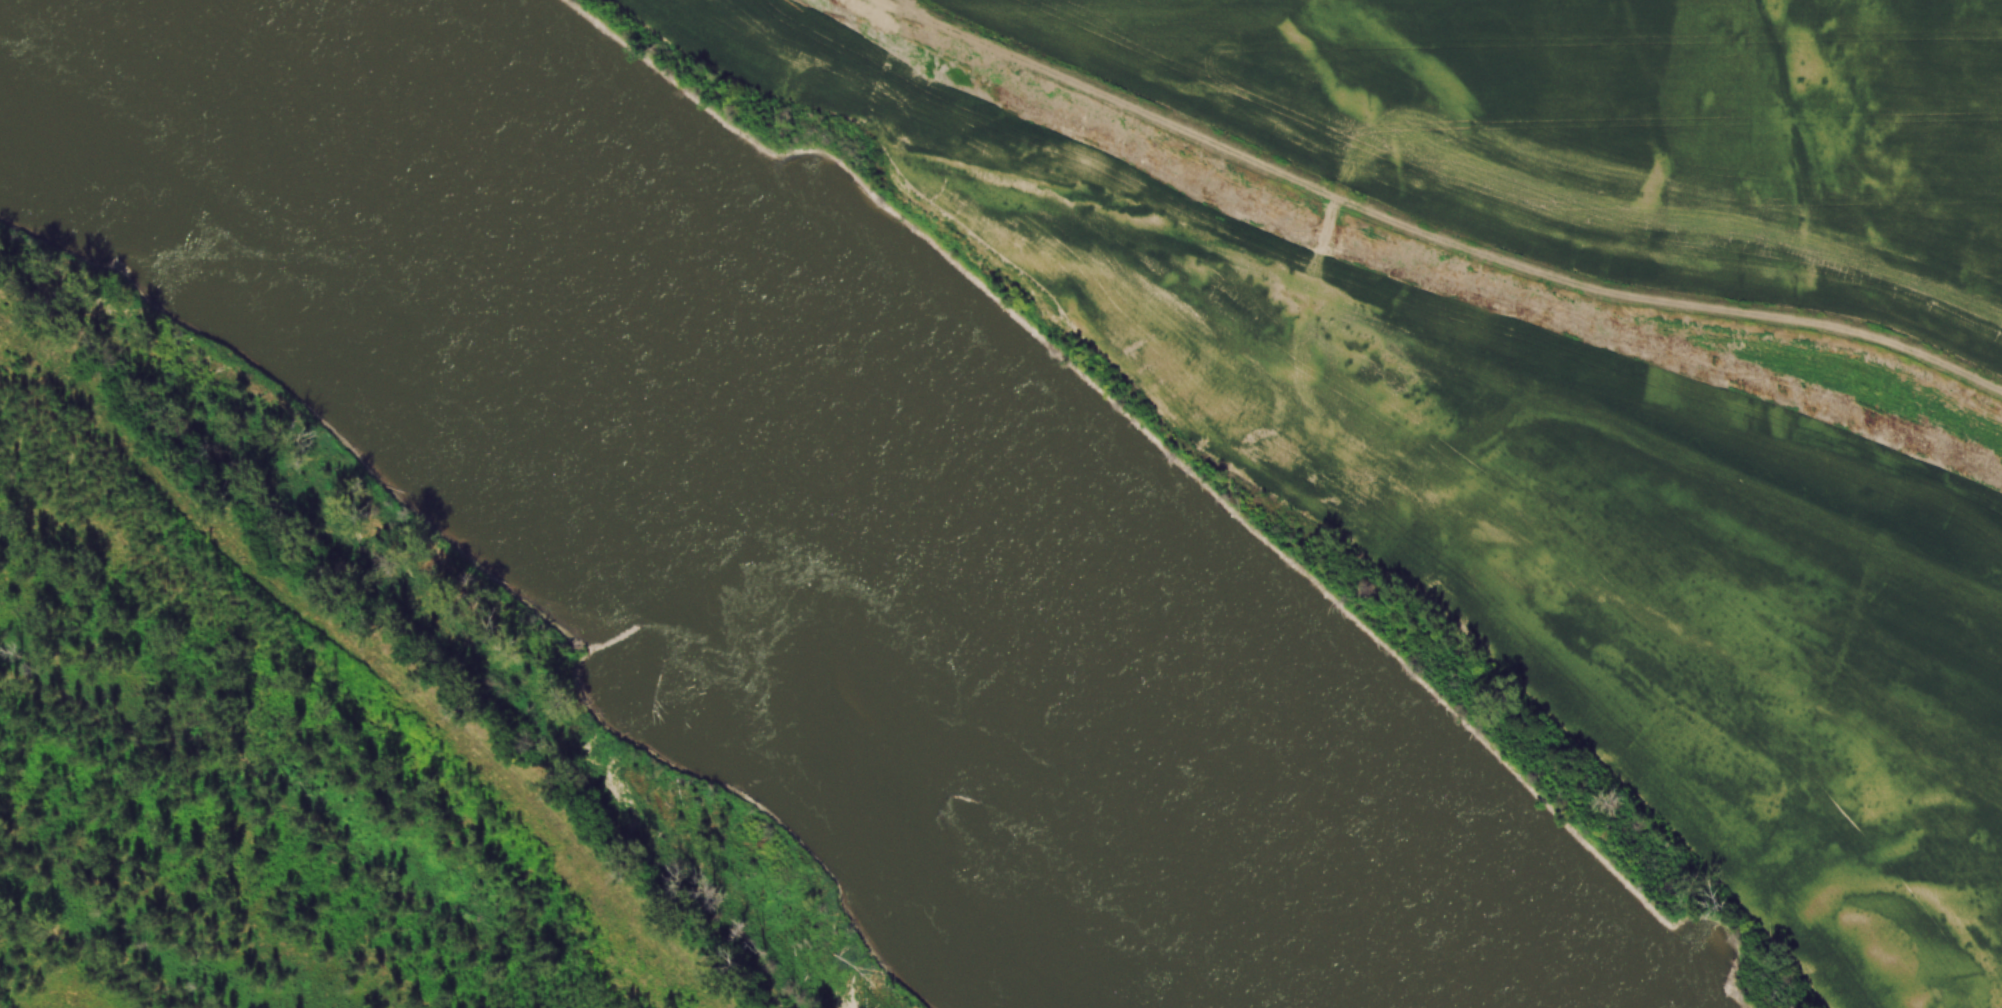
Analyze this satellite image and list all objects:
river: (823, 485)
road: (367, 656)

